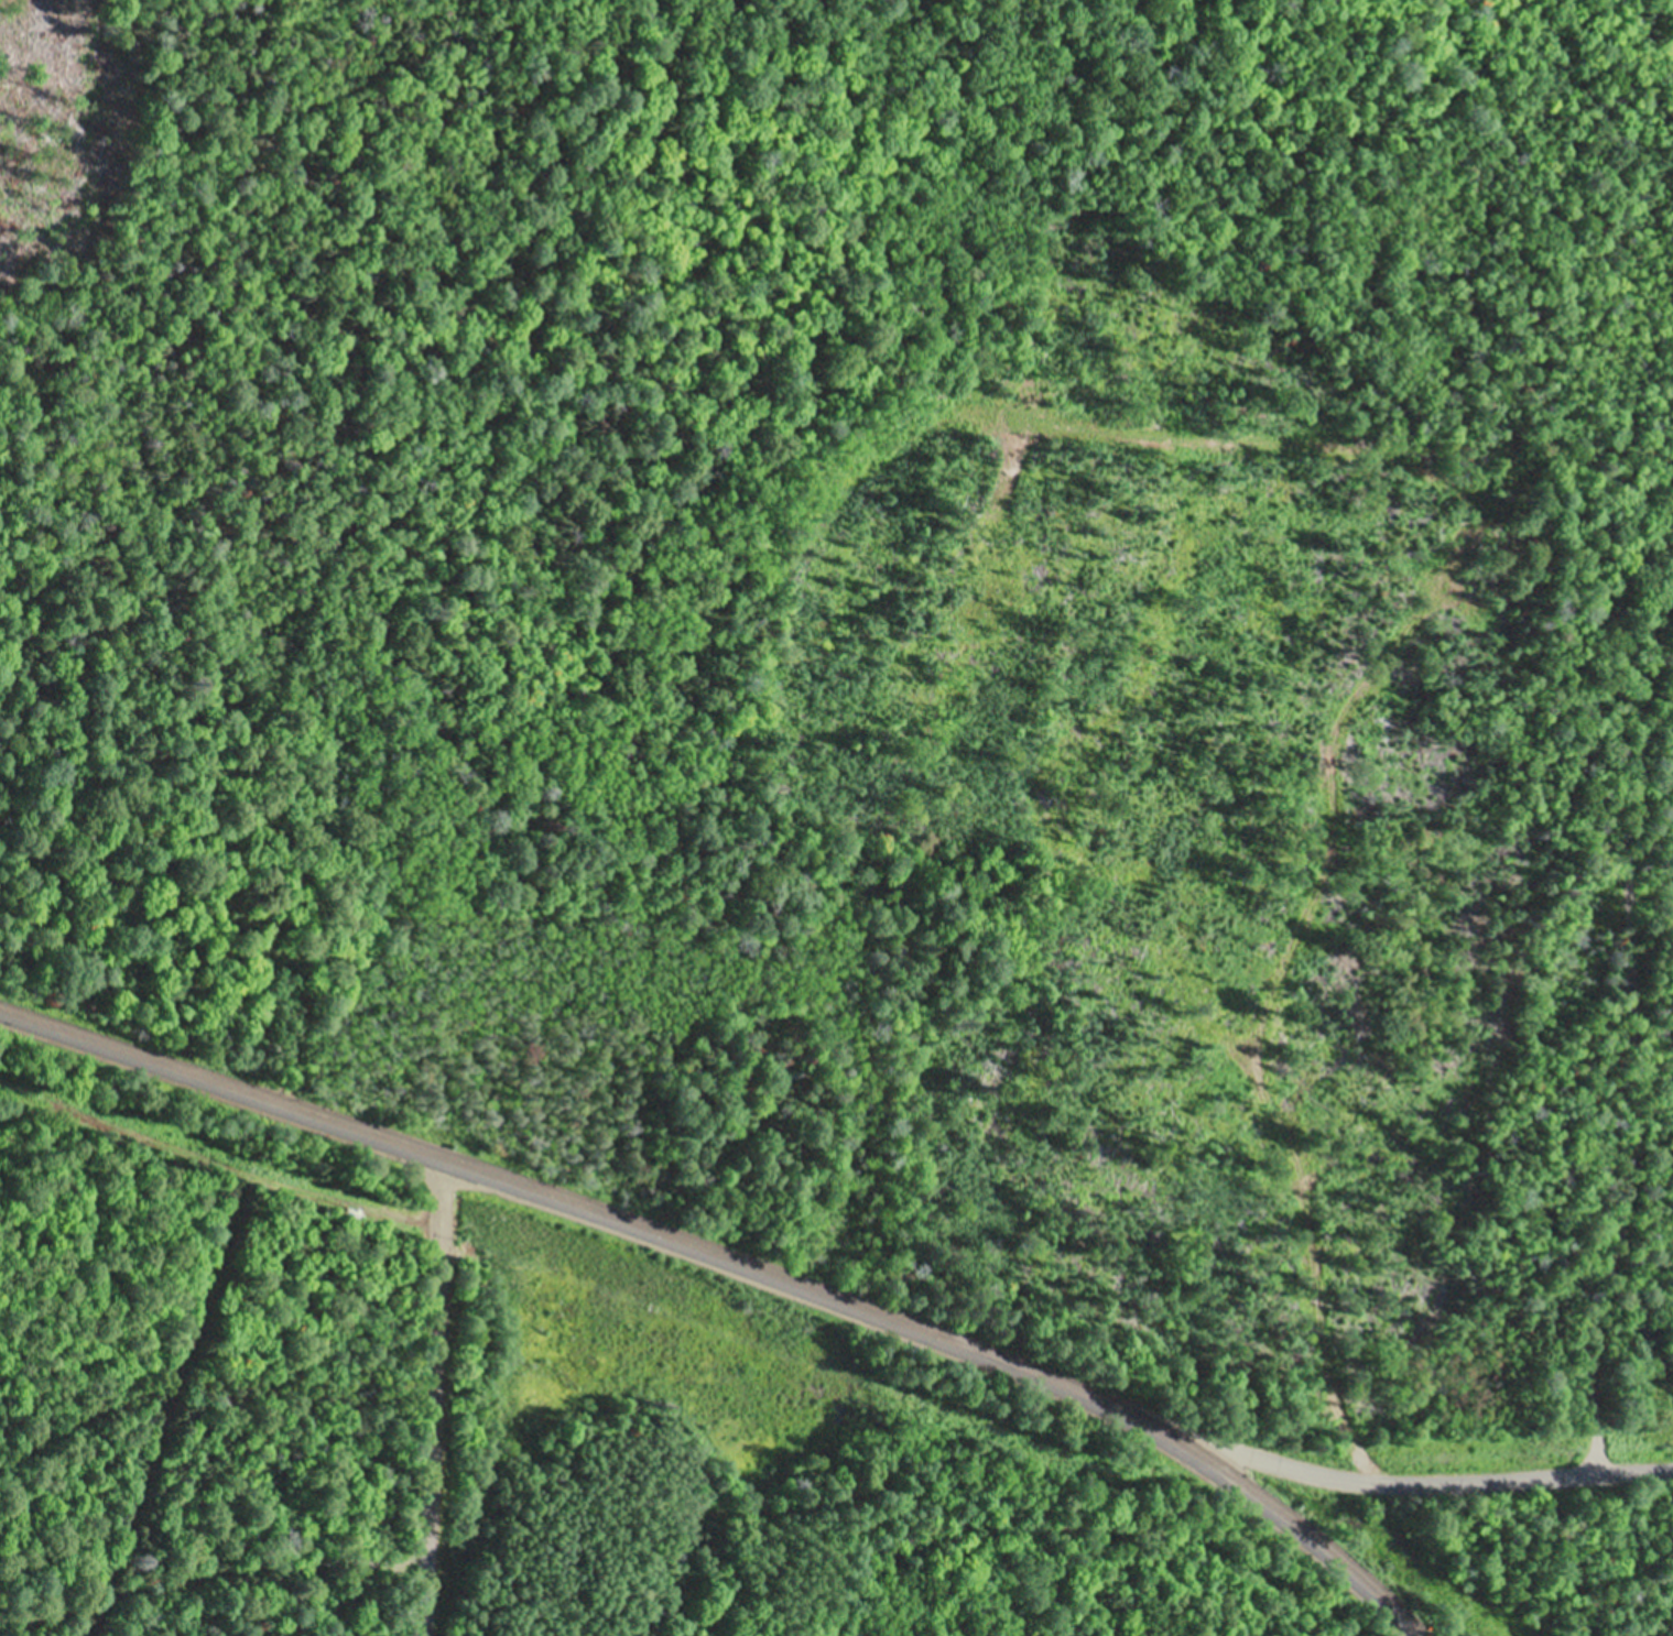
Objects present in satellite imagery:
road: (1632, 1010)
road: (743, 1258)
road: (214, 1381)
road: (436, 1394)
road: (1414, 1472)
road: (217, 1600)

